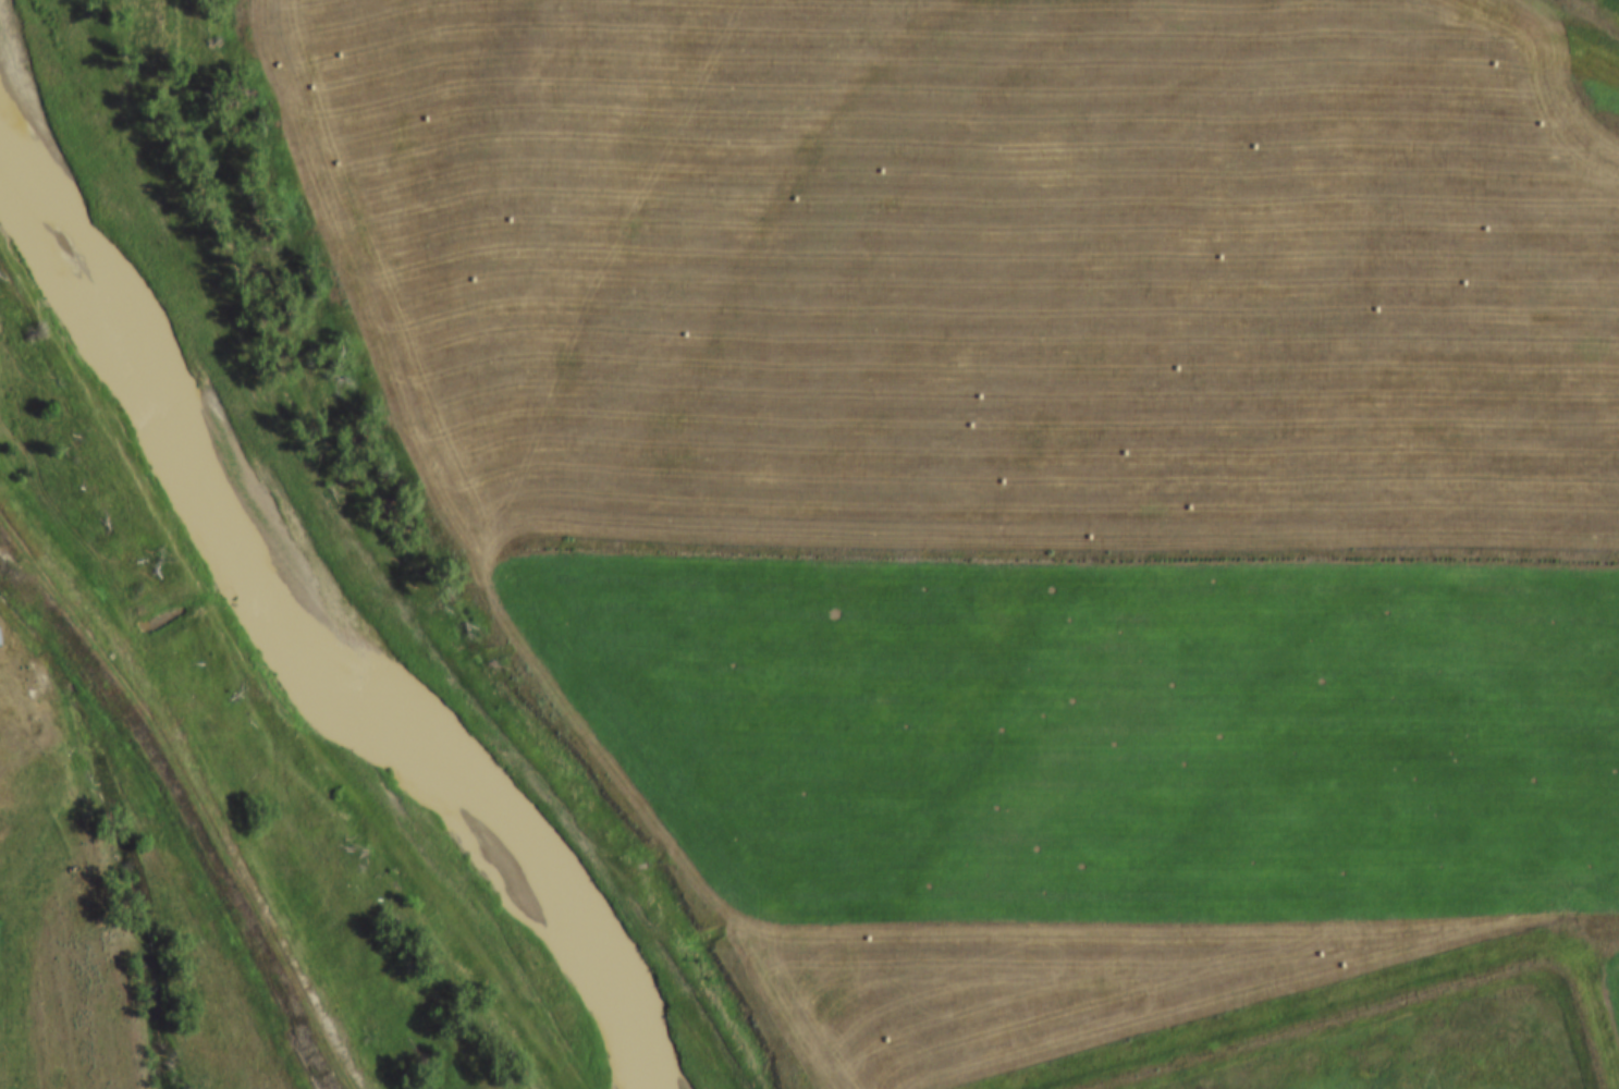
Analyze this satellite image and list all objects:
river: (277, 610)
road: (1369, 1002)

